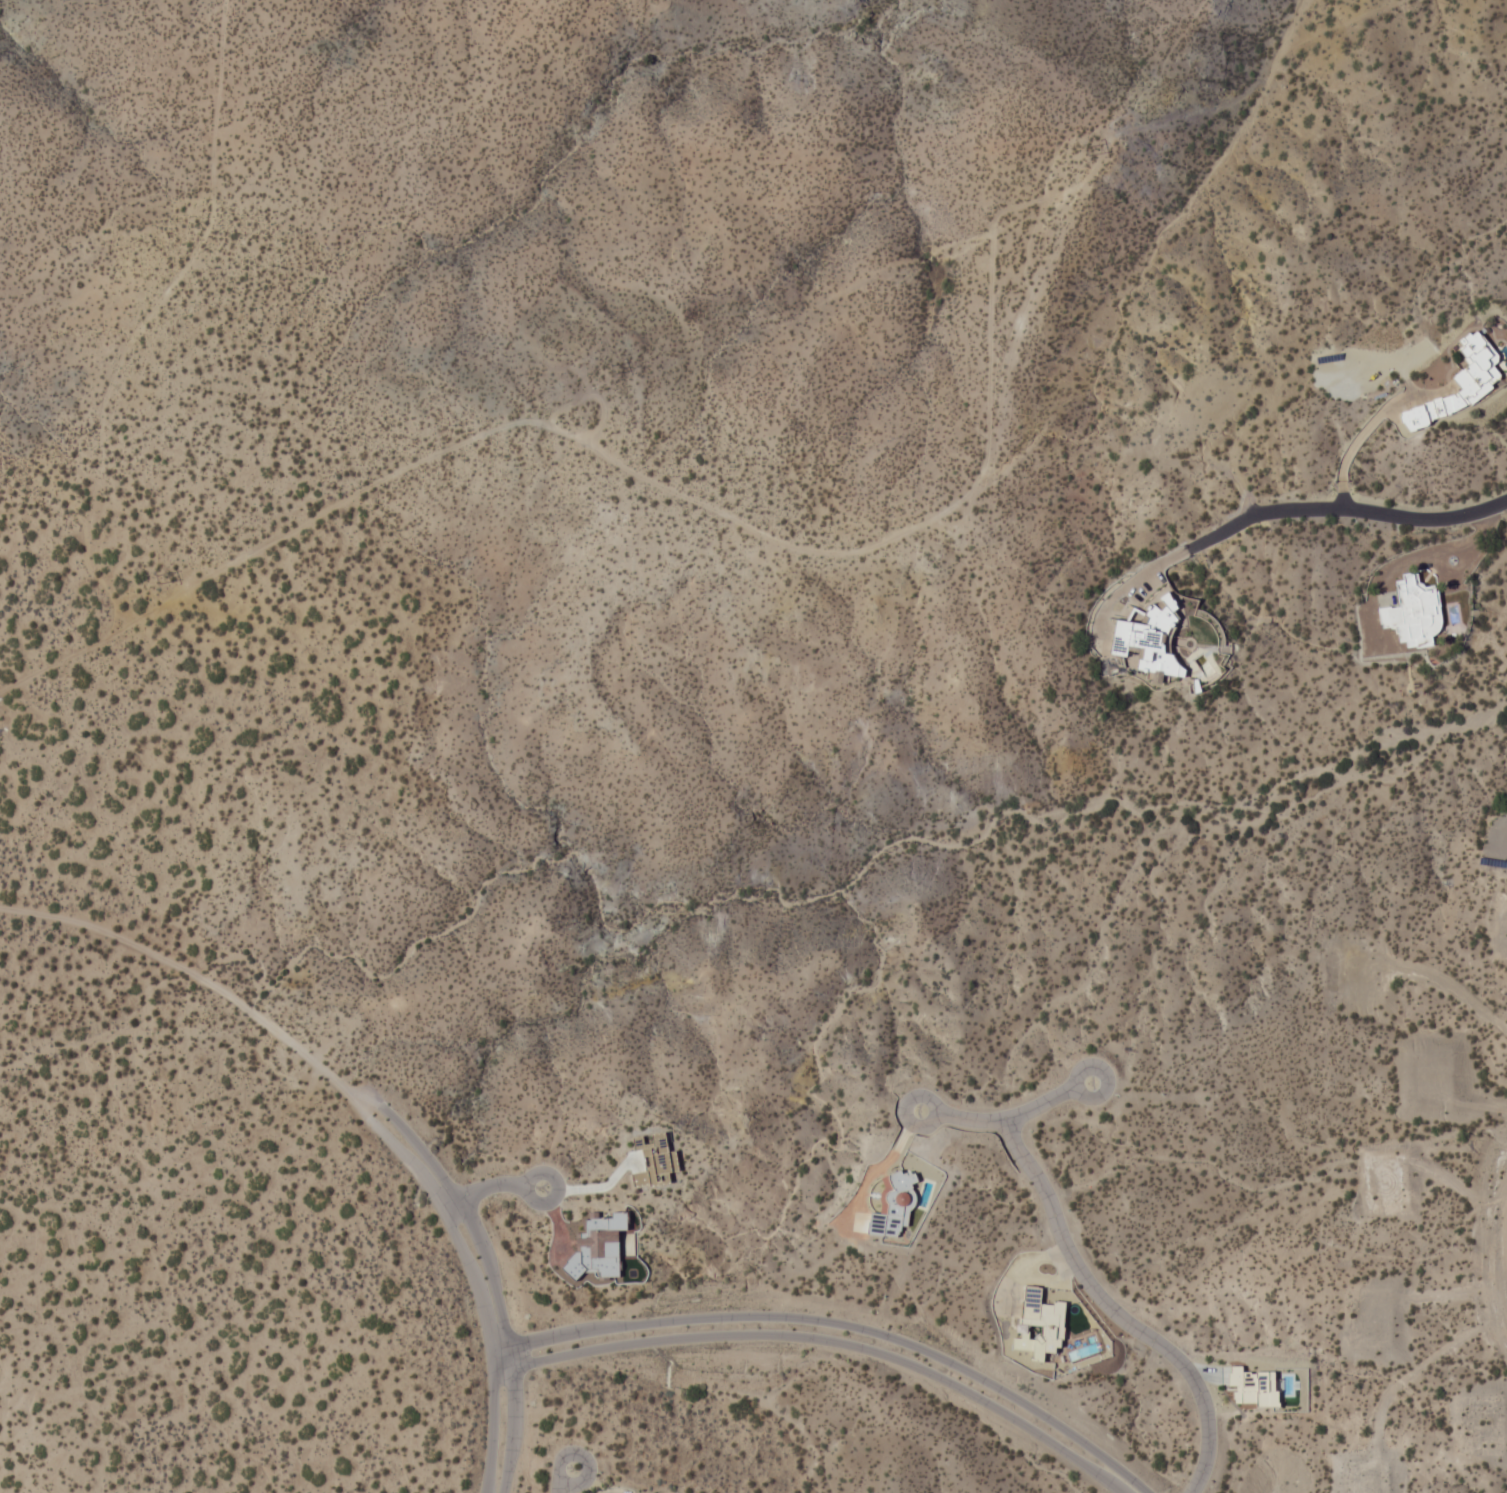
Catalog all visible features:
power tower: (1083, 152)
power tower: (610, 366)
building: (1457, 382)
road: (1379, 513)
road: (767, 567)
power tower: (158, 580)
building: (1413, 612)
building: (1149, 637)
road: (196, 980)
road: (1012, 1121)
road: (488, 1187)
road: (589, 1187)
road: (488, 1276)
road: (474, 1282)
road: (1117, 1313)
building: (1038, 1324)
road: (841, 1326)
road: (825, 1341)
road: (566, 1480)

